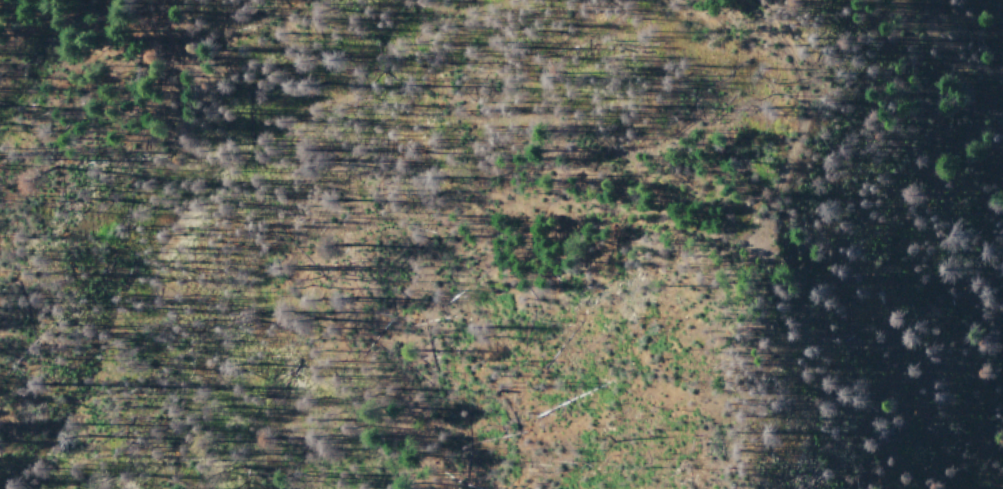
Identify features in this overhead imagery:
road: (773, 25)

